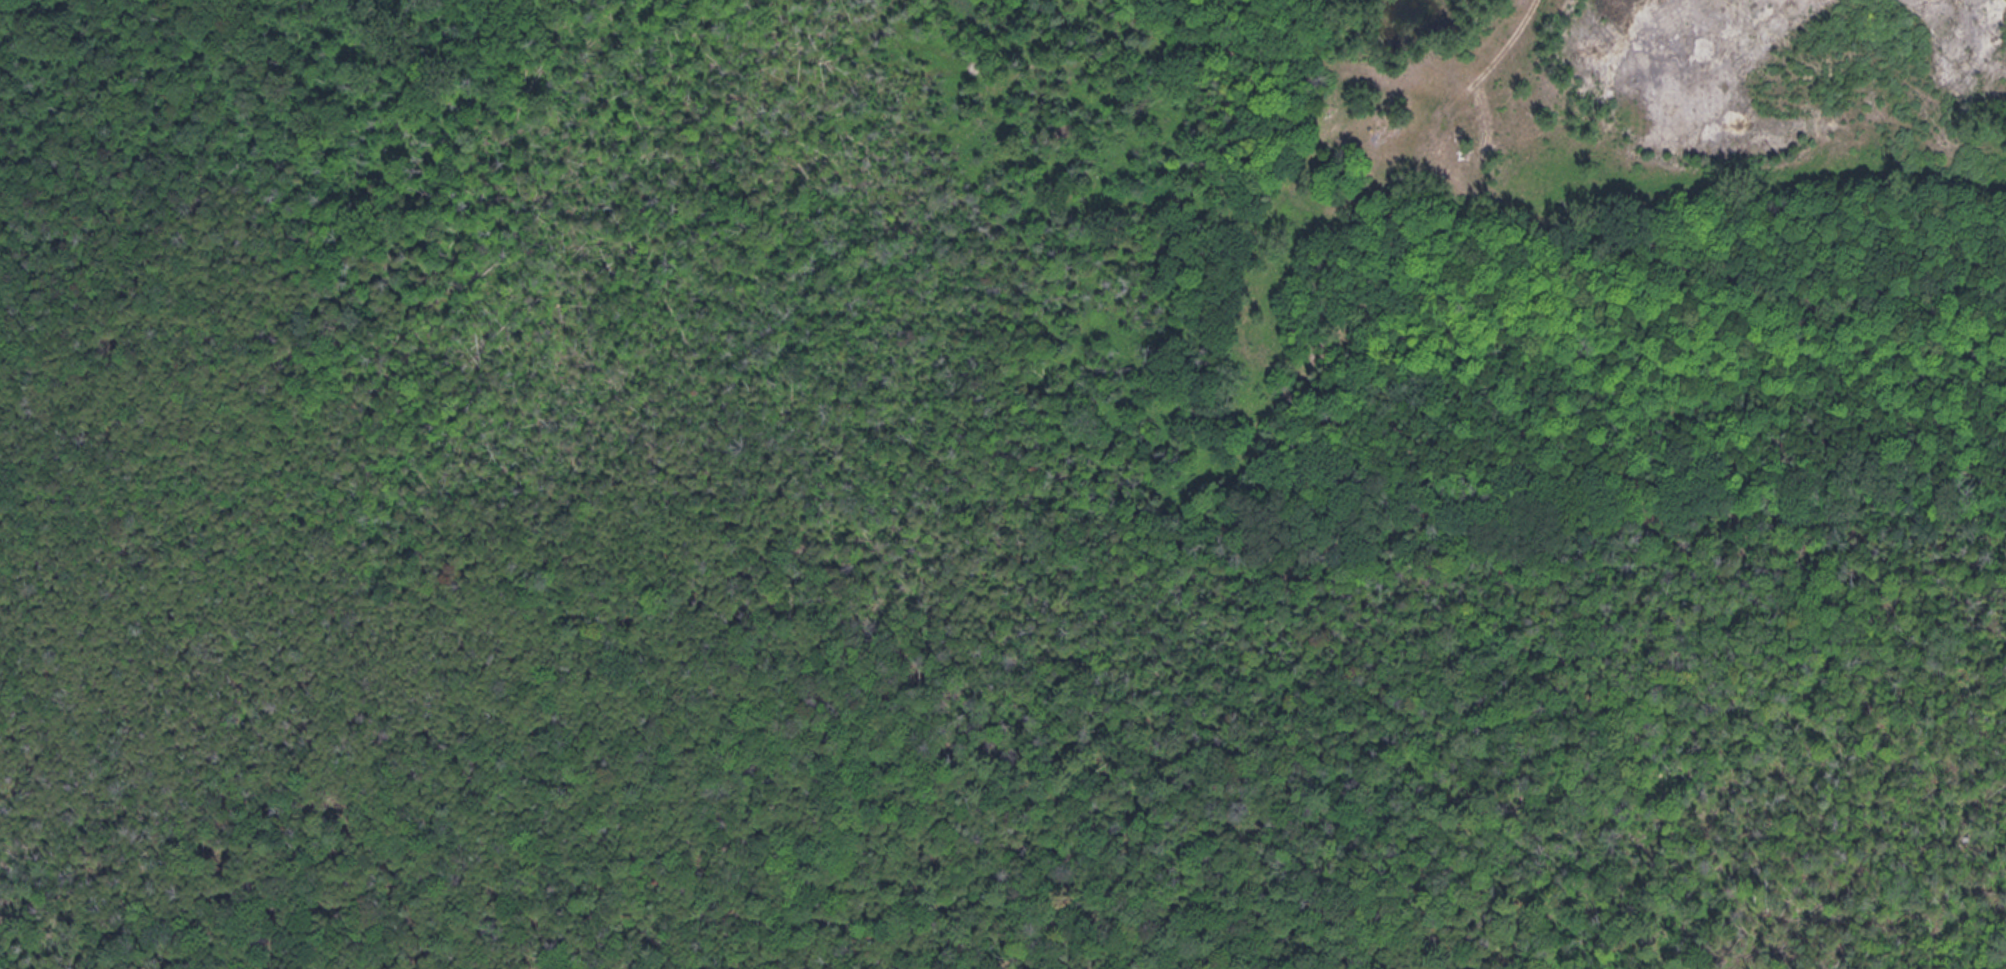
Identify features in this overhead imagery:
road: (1910, 483)

